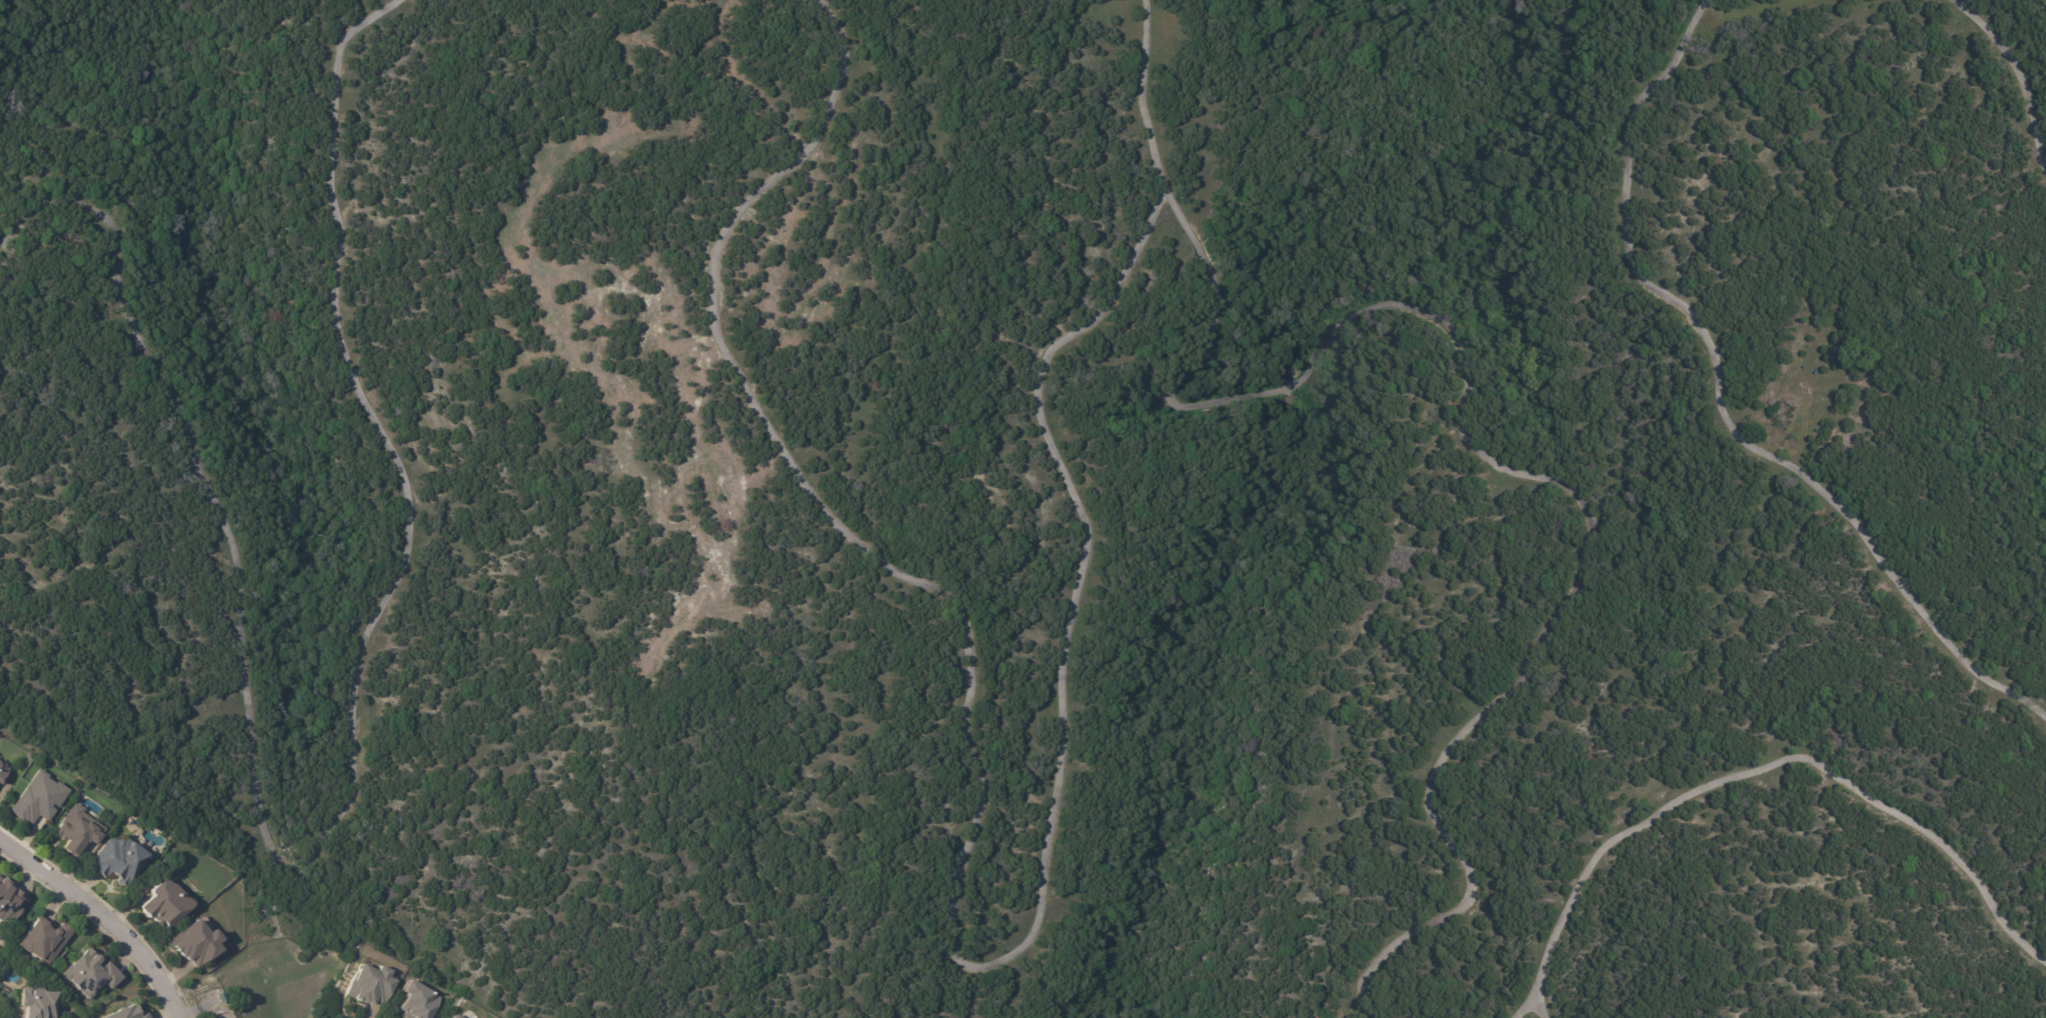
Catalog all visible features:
building: (3, 773)
building: (40, 798)
building: (77, 830)
building: (120, 860)
building: (11, 901)
building: (166, 903)
road: (100, 918)
building: (46, 940)
building: (197, 942)
building: (91, 973)
building: (374, 983)
building: (222, 997)
building: (418, 1000)
building: (39, 1002)
building: (128, 1013)
building: (456, 1016)

